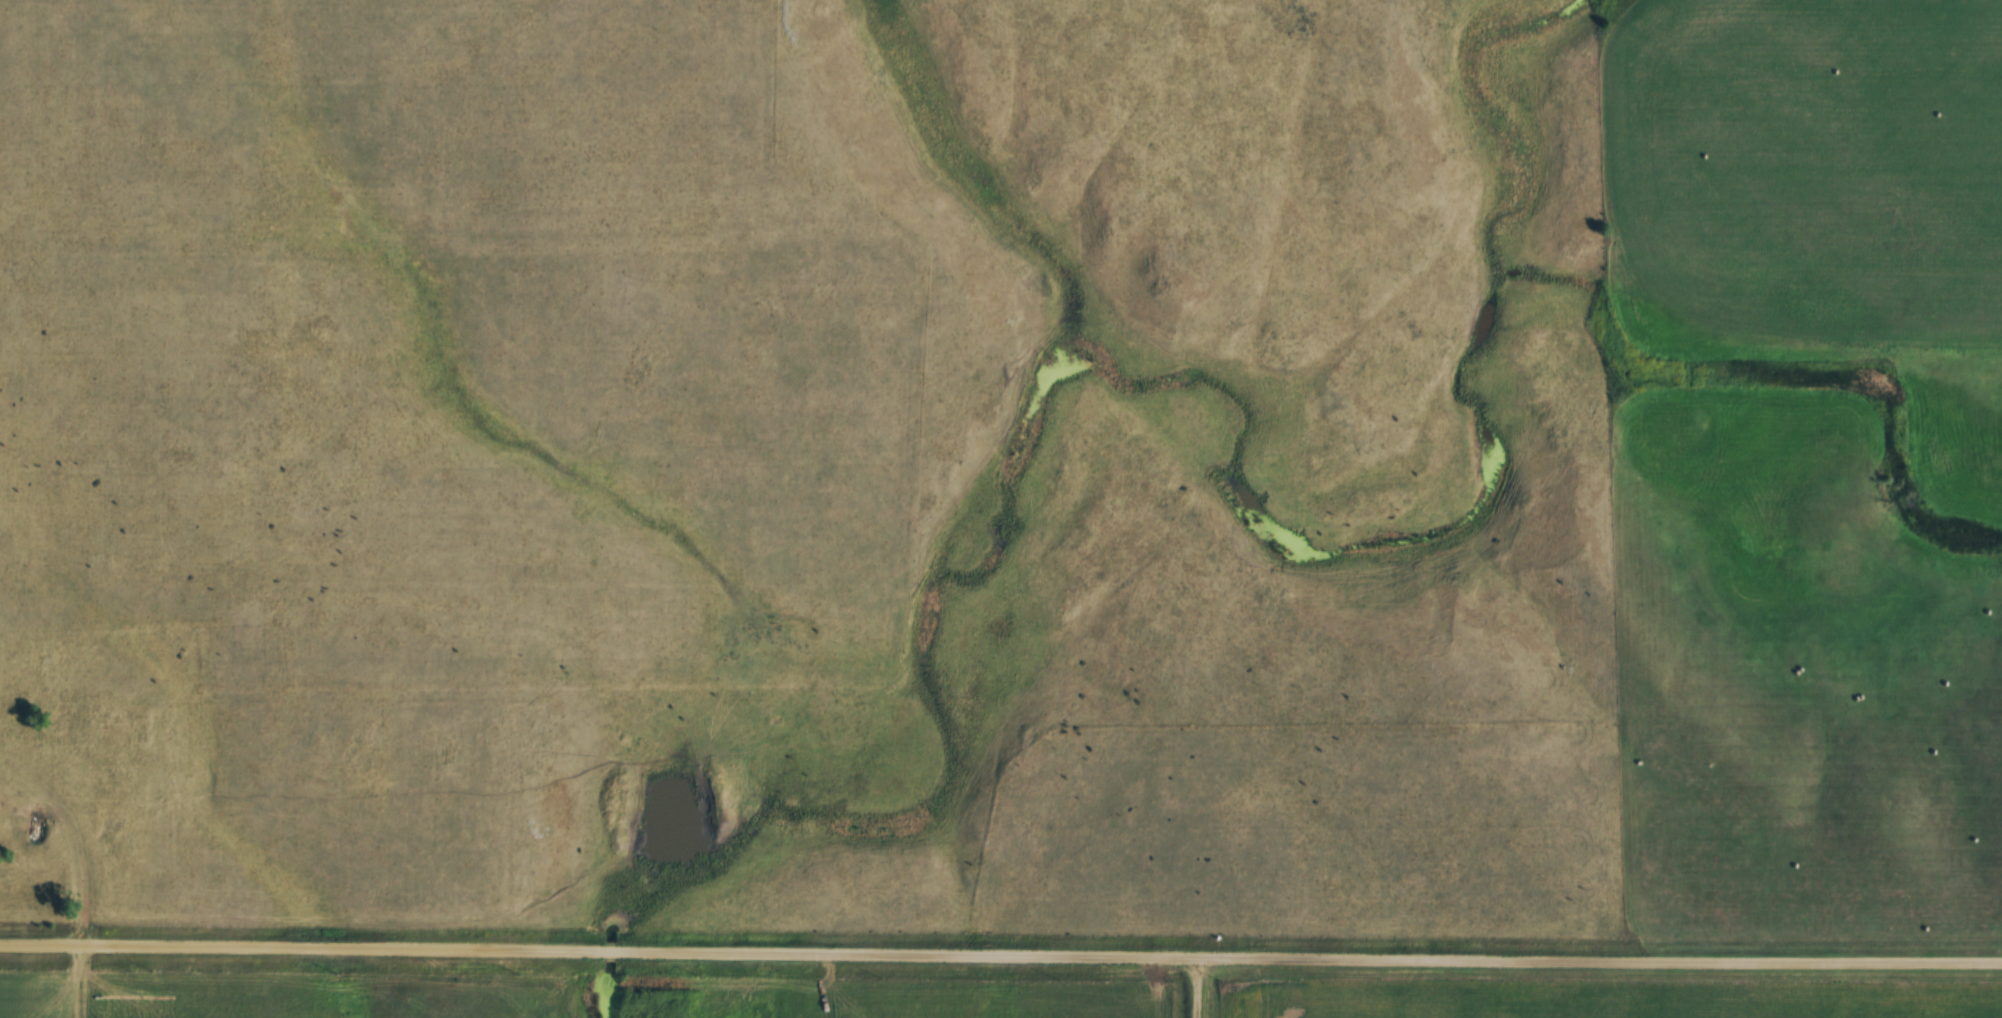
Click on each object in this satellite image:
road: (82, 843)
road: (1000, 942)

